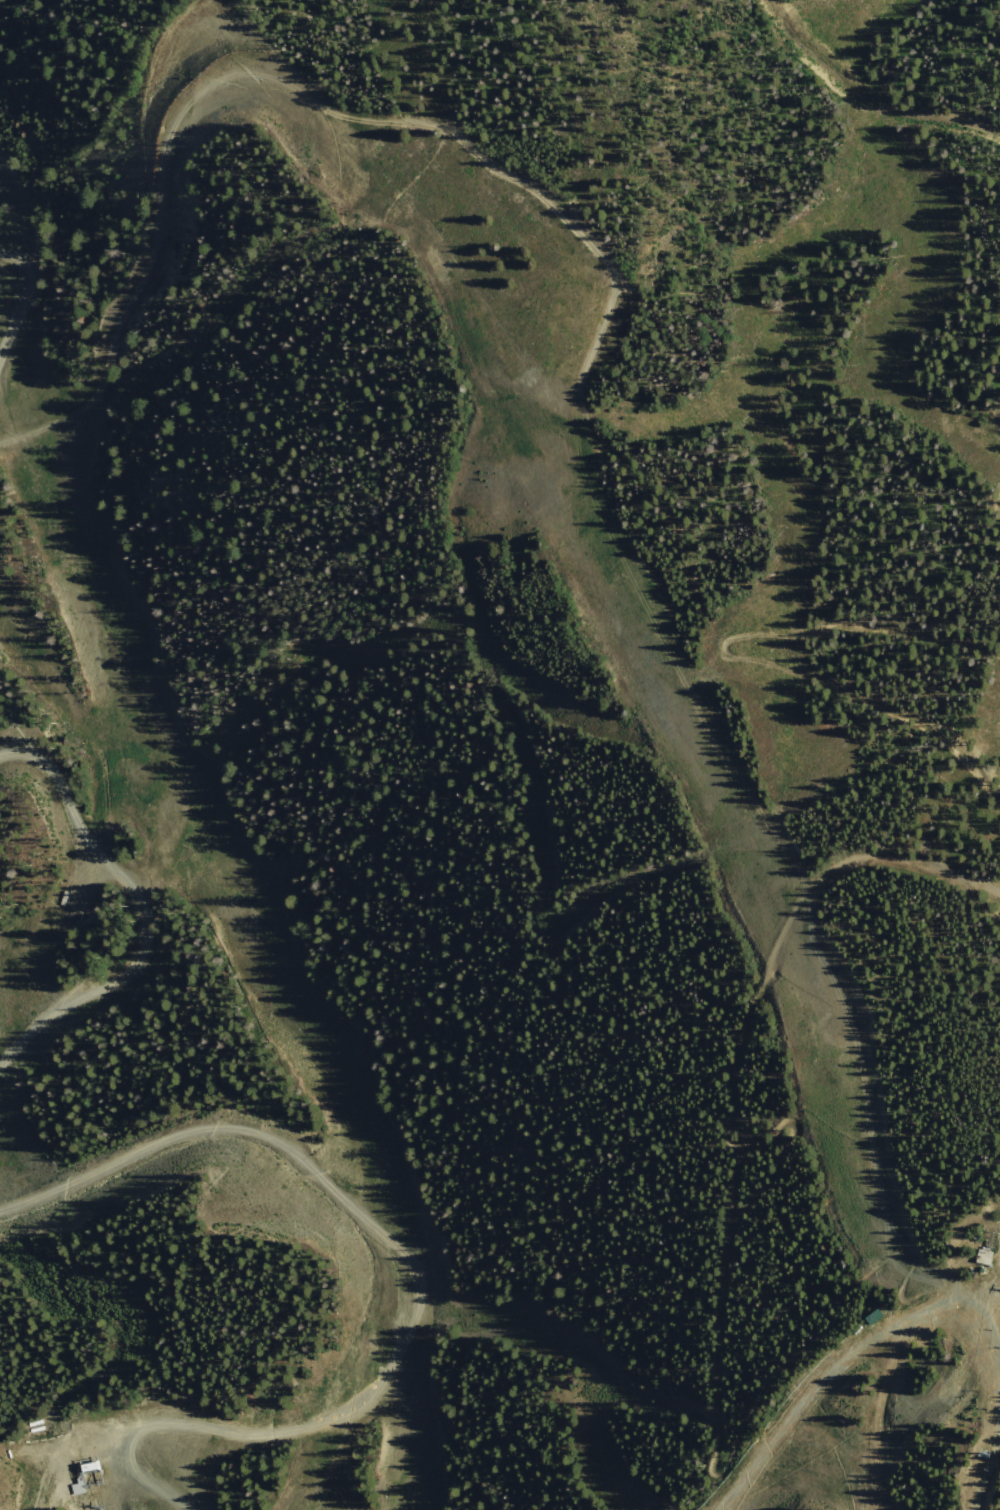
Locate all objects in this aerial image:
road: (411, 48)
road: (963, 138)
road: (534, 188)
road: (23, 261)
road: (13, 322)
road: (436, 621)
road: (752, 631)
ski resort: (500, 755)
road: (984, 760)
road: (986, 799)
road: (519, 817)
road: (145, 909)
road: (735, 1083)
road: (874, 1120)
building: (986, 1256)
road: (406, 1270)
building: (875, 1317)
road: (945, 1323)
road: (880, 1413)
road: (794, 1420)
road: (840, 1445)
aerialway pylon: (991, 1454)
building: (78, 1483)
road: (880, 1499)
aerialway pylon: (102, 1505)

